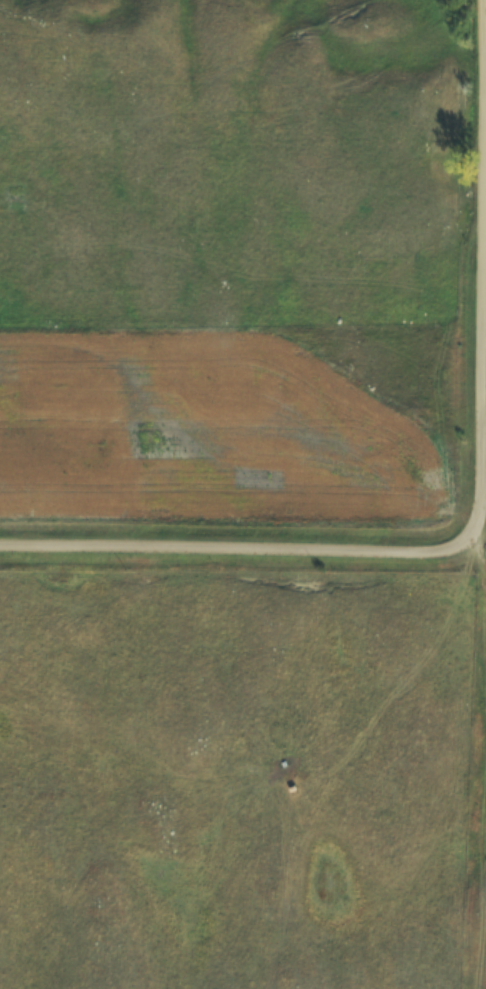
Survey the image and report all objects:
road: (475, 514)

